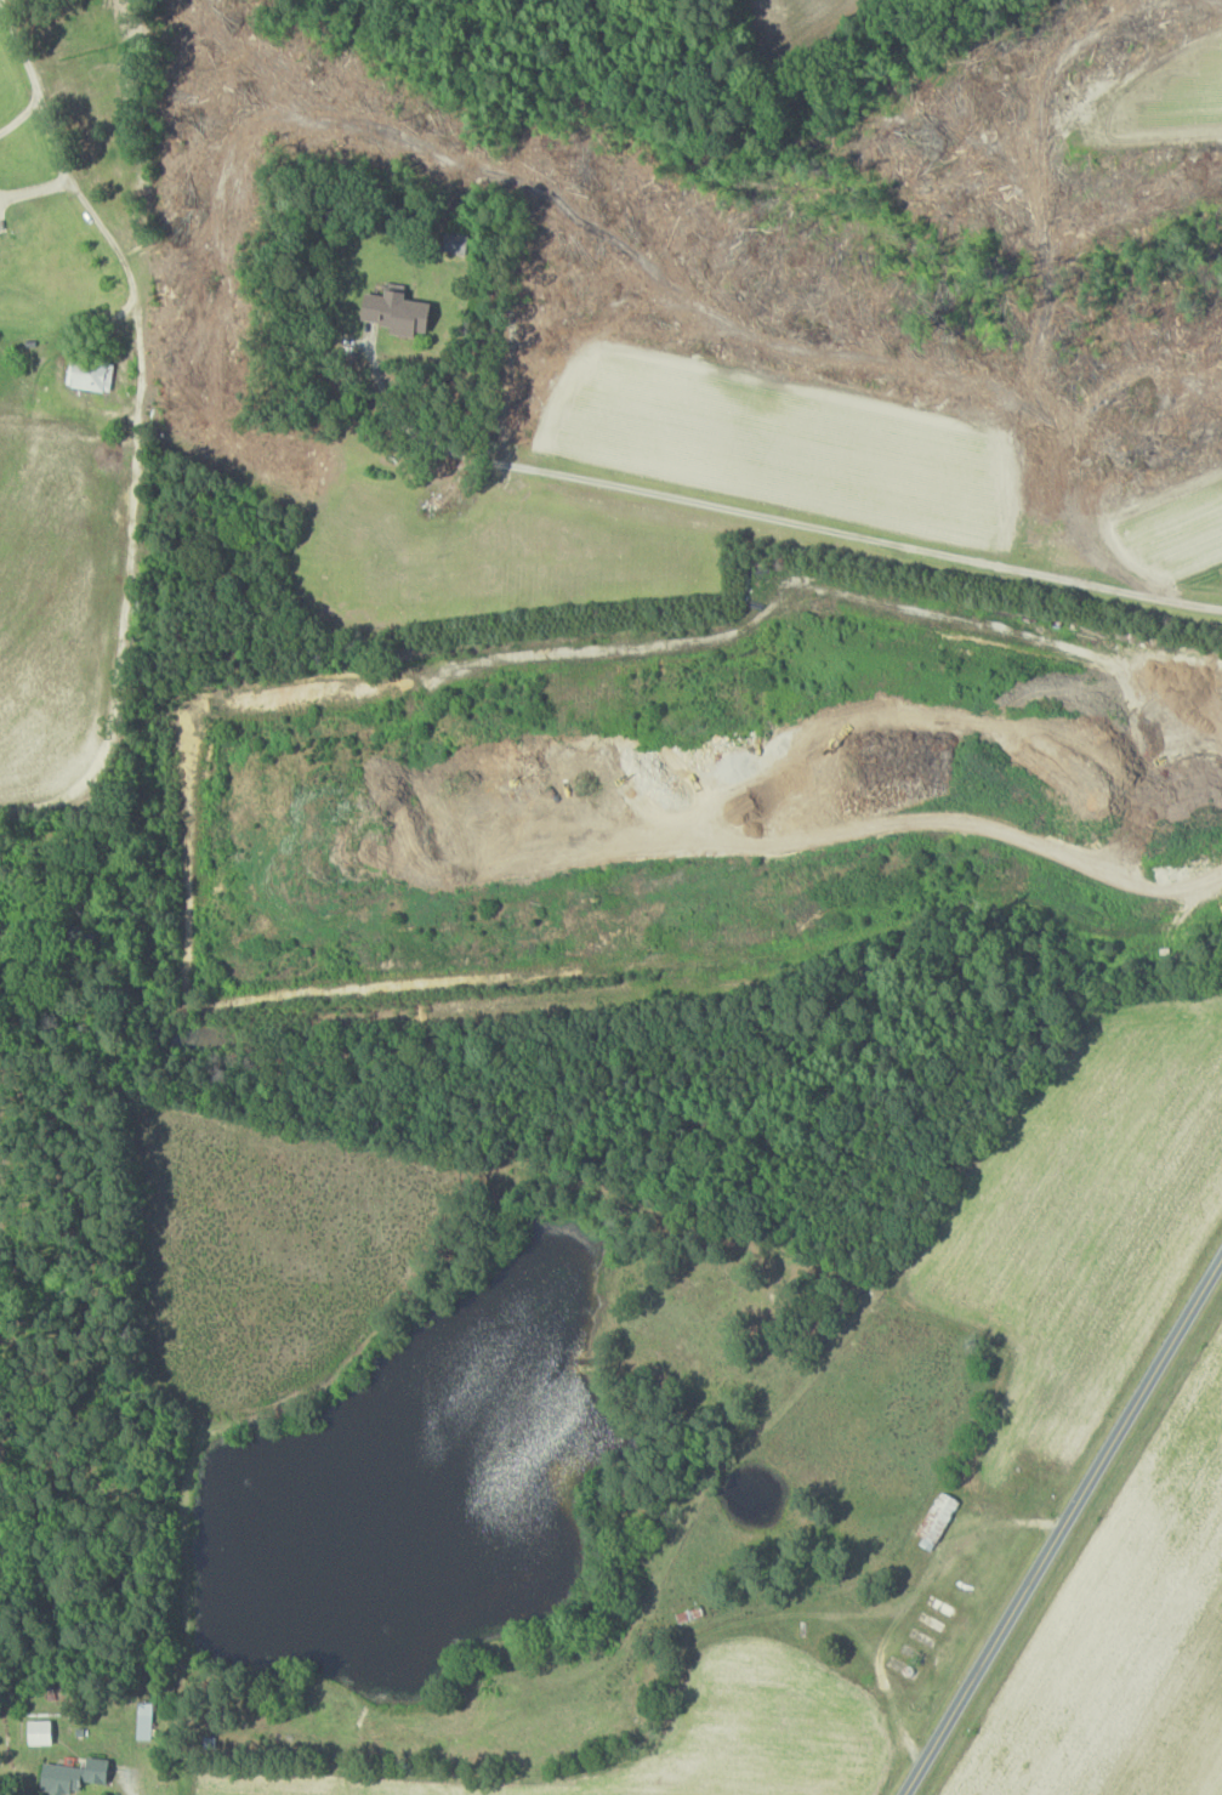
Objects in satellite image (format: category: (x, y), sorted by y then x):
road: (29, 73)
building: (454, 243)
road: (114, 244)
building: (391, 312)
building: (87, 375)
road: (386, 396)
road: (818, 530)
building: (934, 1519)
road: (1063, 1528)
building: (143, 1721)
building: (35, 1733)
building: (70, 1776)
road: (135, 1789)

